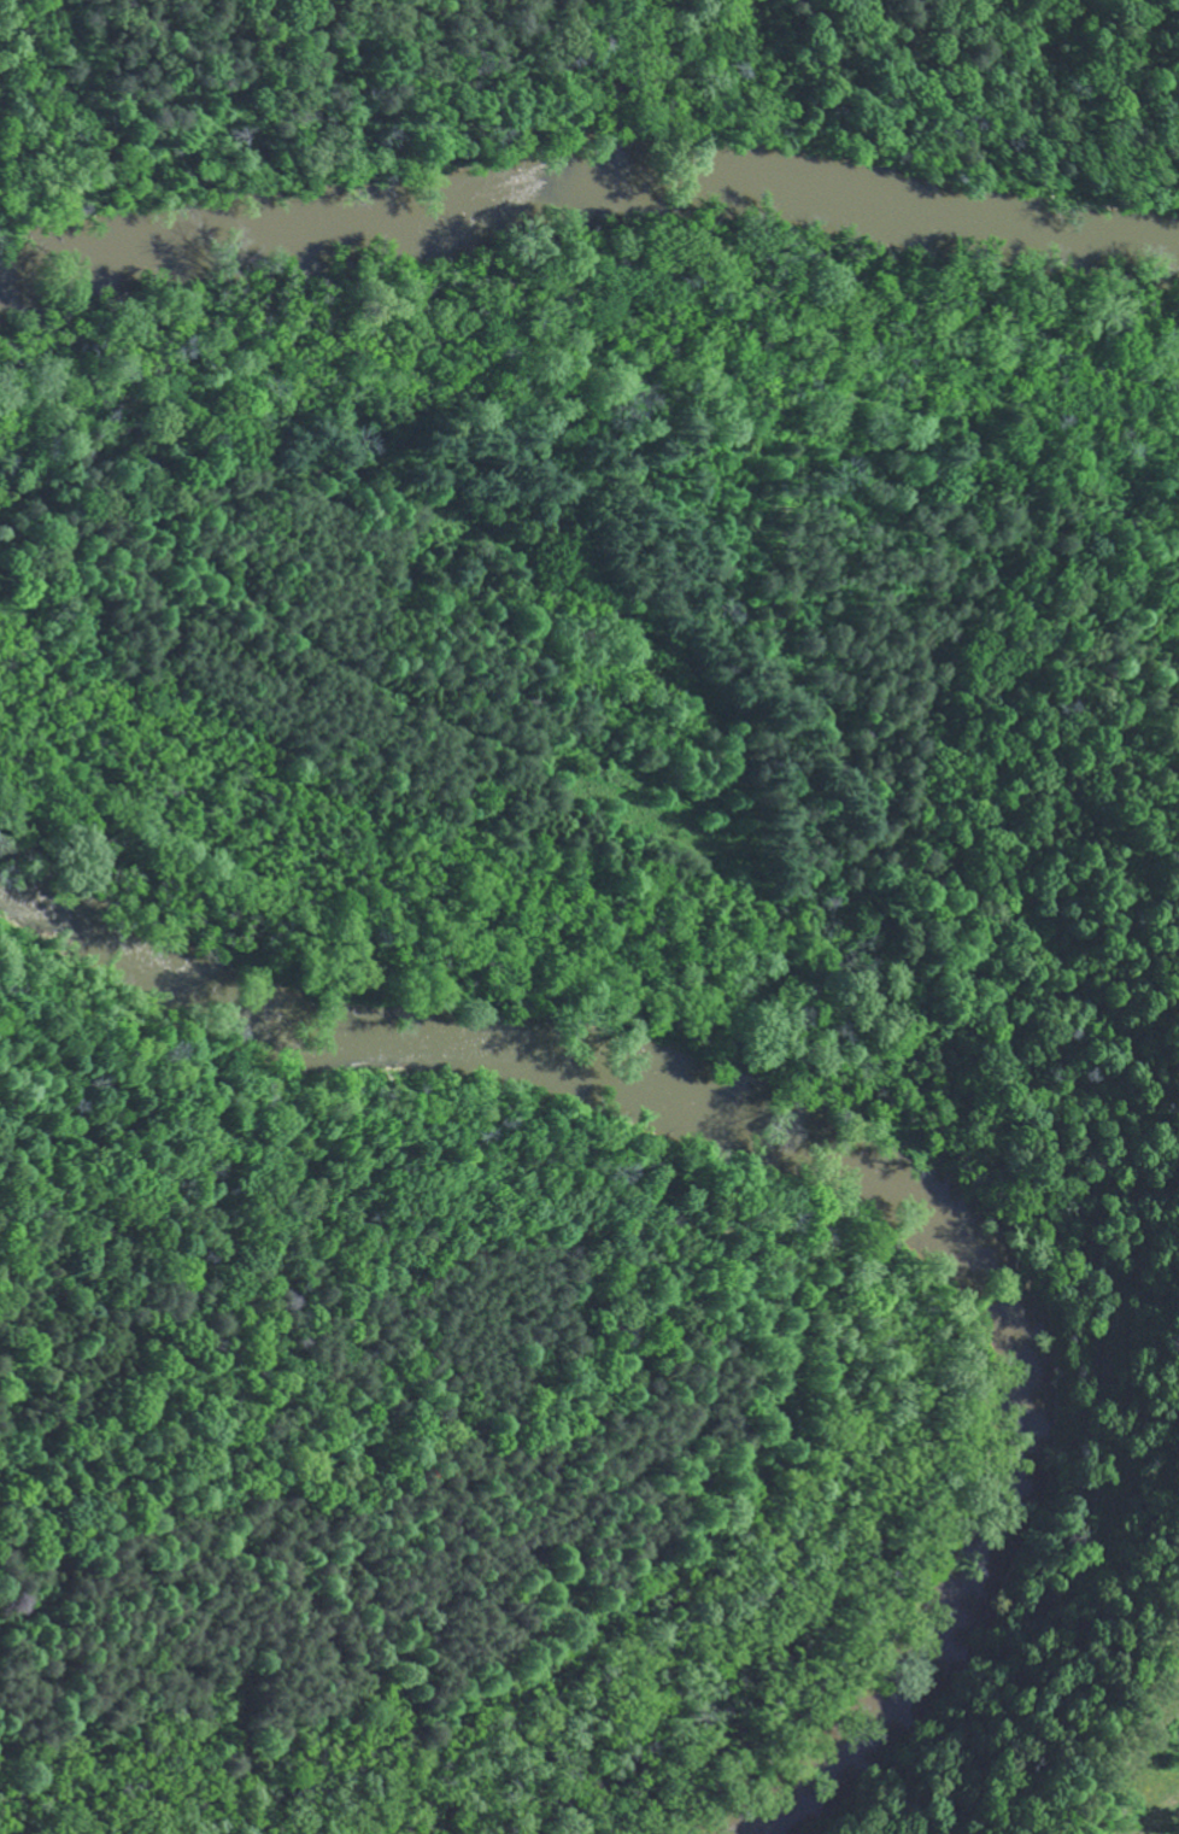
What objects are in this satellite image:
river: (587, 197)
river: (870, 1125)

